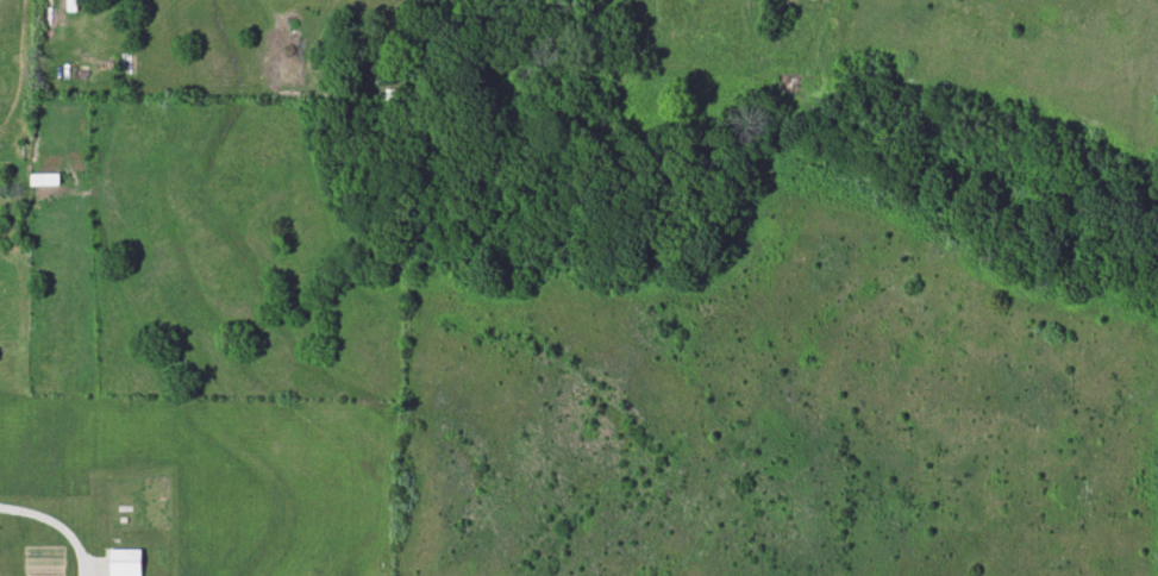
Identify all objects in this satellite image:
building: (43, 180)
road: (46, 520)
building: (124, 563)

